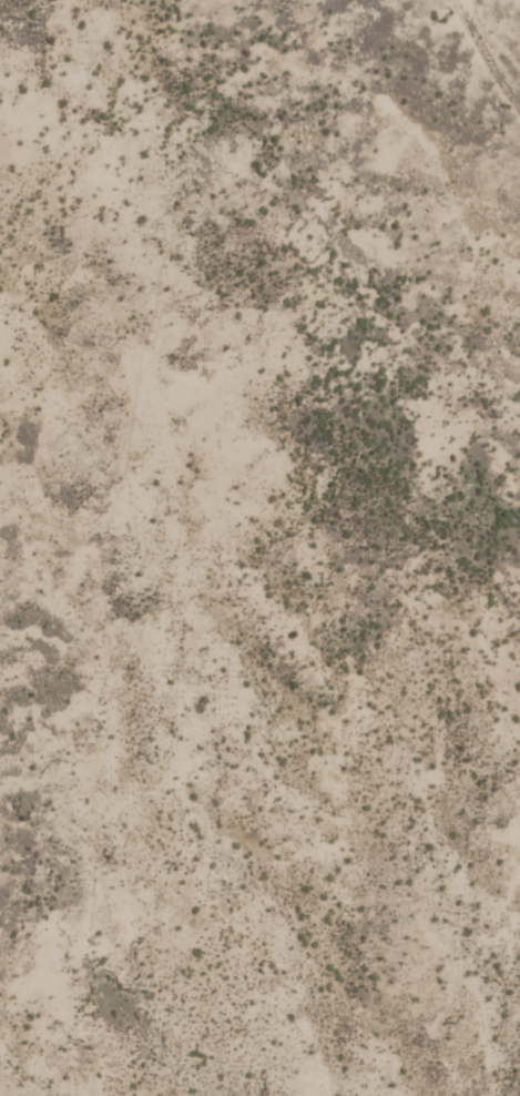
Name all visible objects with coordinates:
road: (492, 43)

